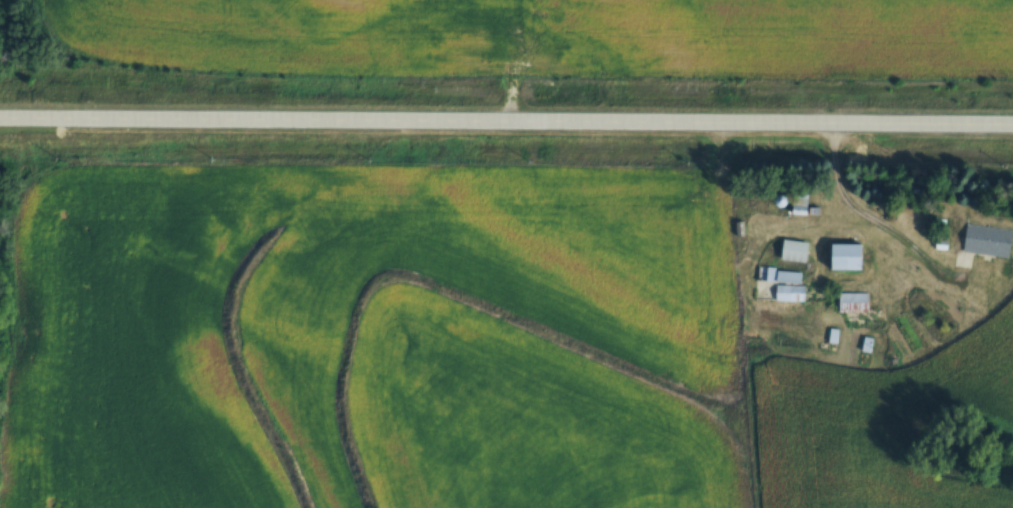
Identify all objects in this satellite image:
road: (506, 119)
building: (798, 201)
road: (855, 212)
building: (986, 237)
building: (793, 247)
building: (846, 254)
building: (777, 272)
building: (788, 290)
building: (852, 299)

